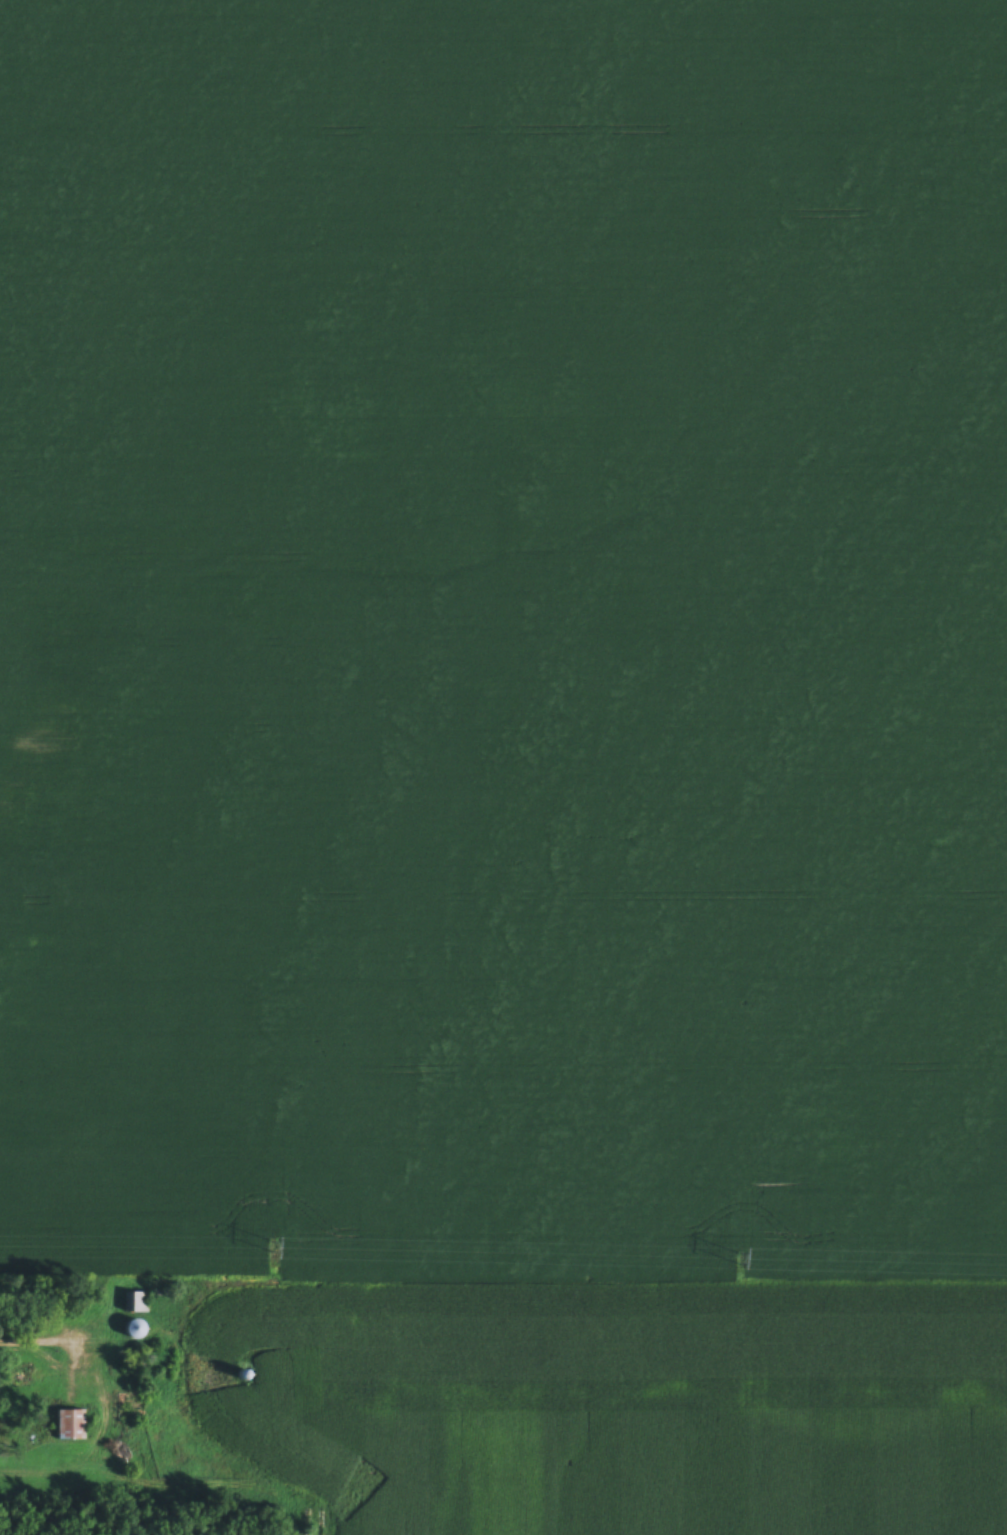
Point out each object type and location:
power tower: (272, 1246)
power tower: (737, 1259)
building: (135, 1300)
building: (78, 1424)

